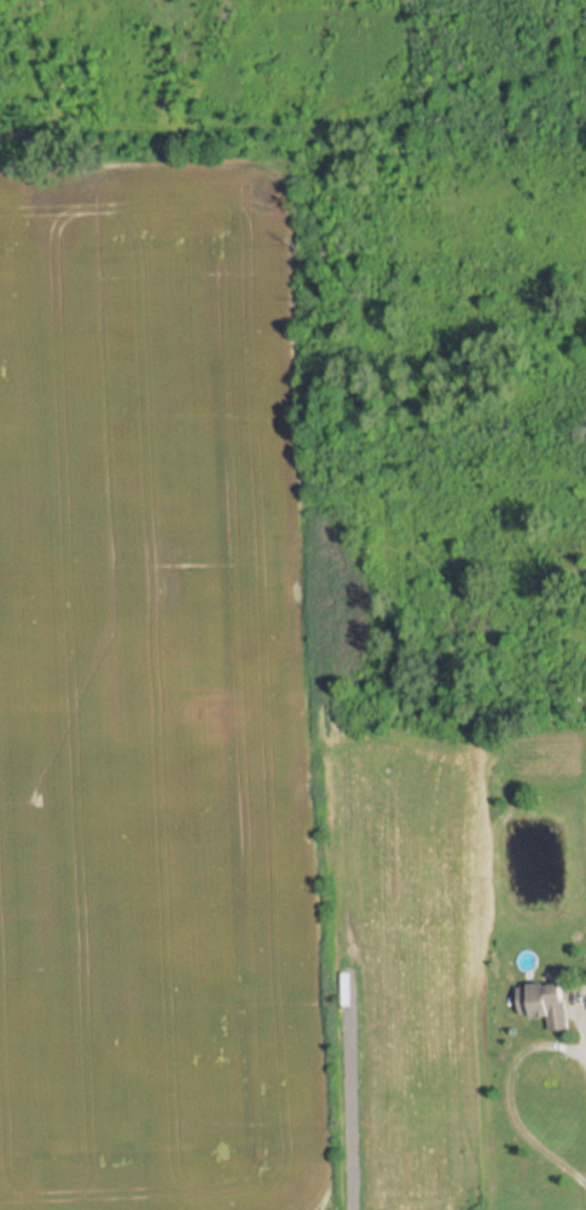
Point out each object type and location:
building: (546, 1002)

